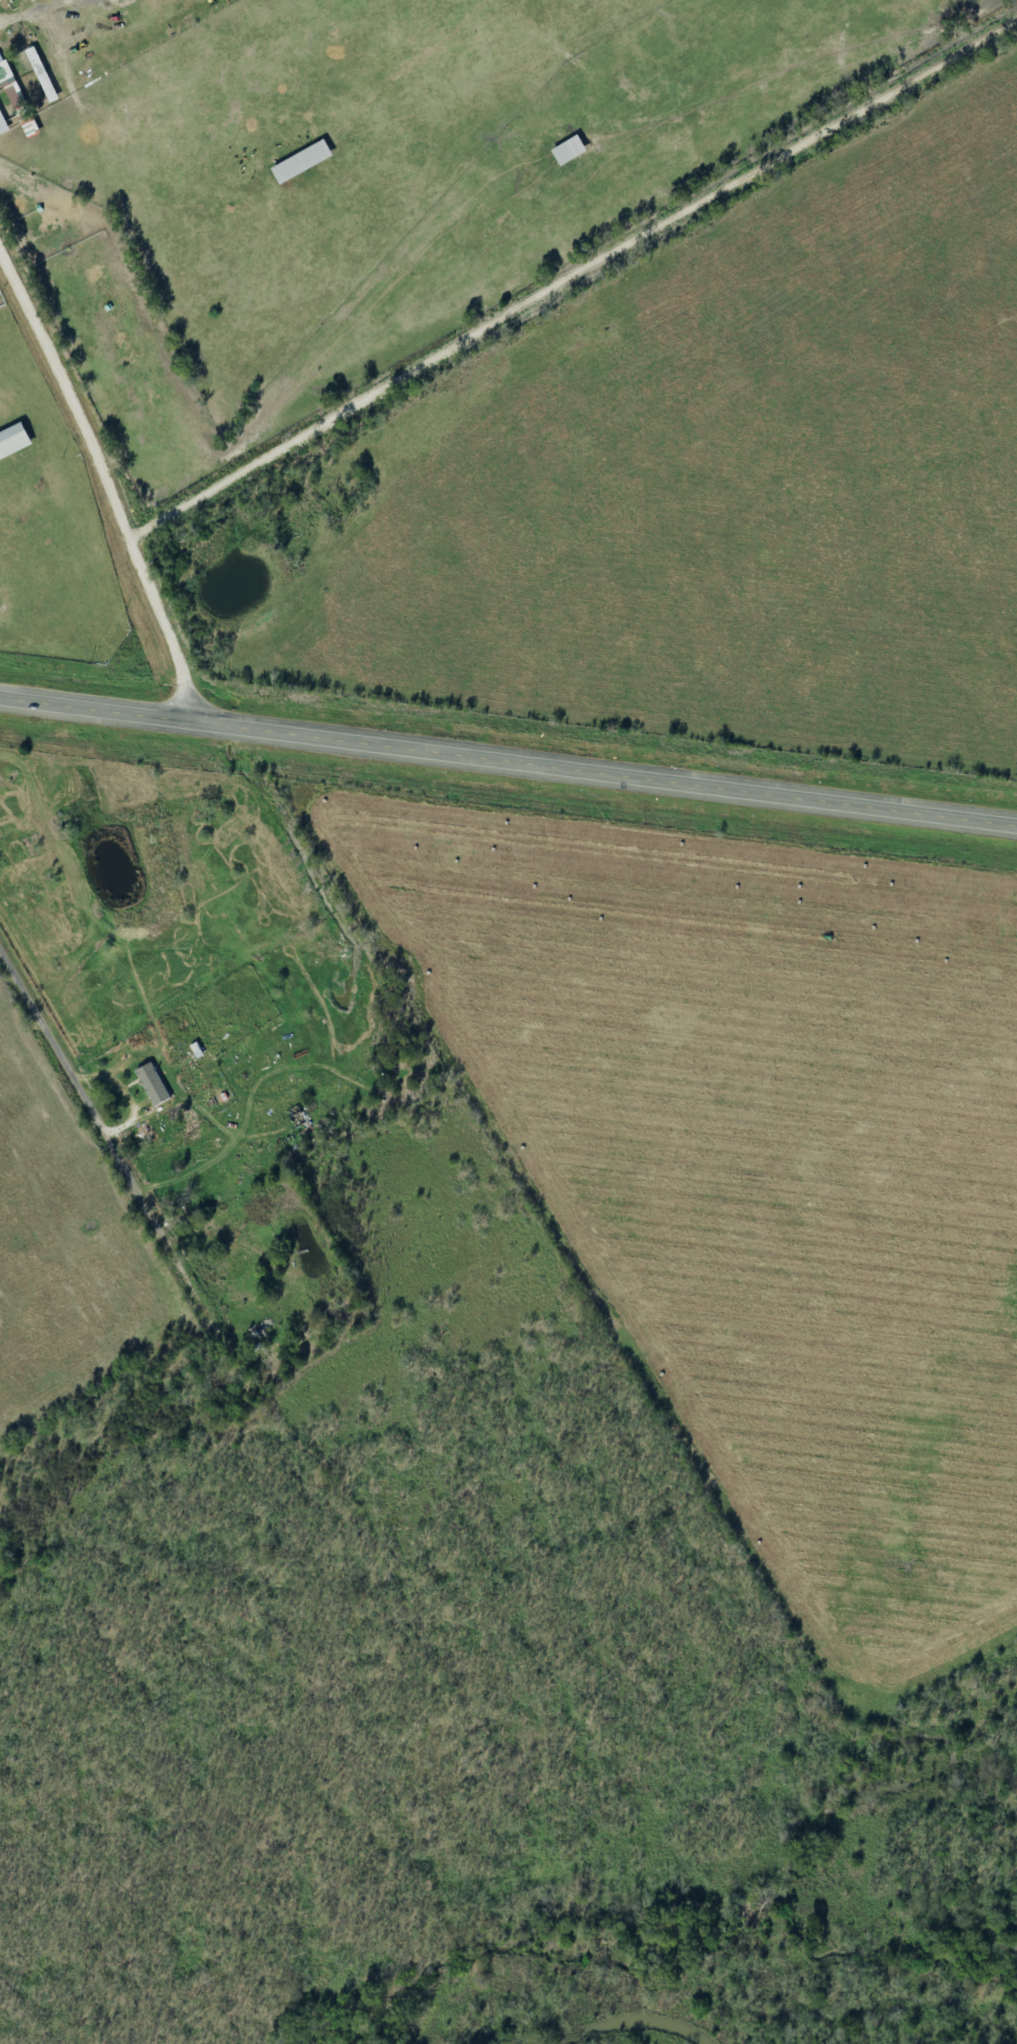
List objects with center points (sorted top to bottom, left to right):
building: (46, 75)
building: (573, 150)
building: (306, 162)
road: (576, 278)
road: (72, 383)
building: (16, 441)
road: (158, 590)
road: (508, 748)
building: (157, 1085)
building: (306, 1130)
road: (736, 1334)
road: (876, 1346)
road: (722, 1887)

